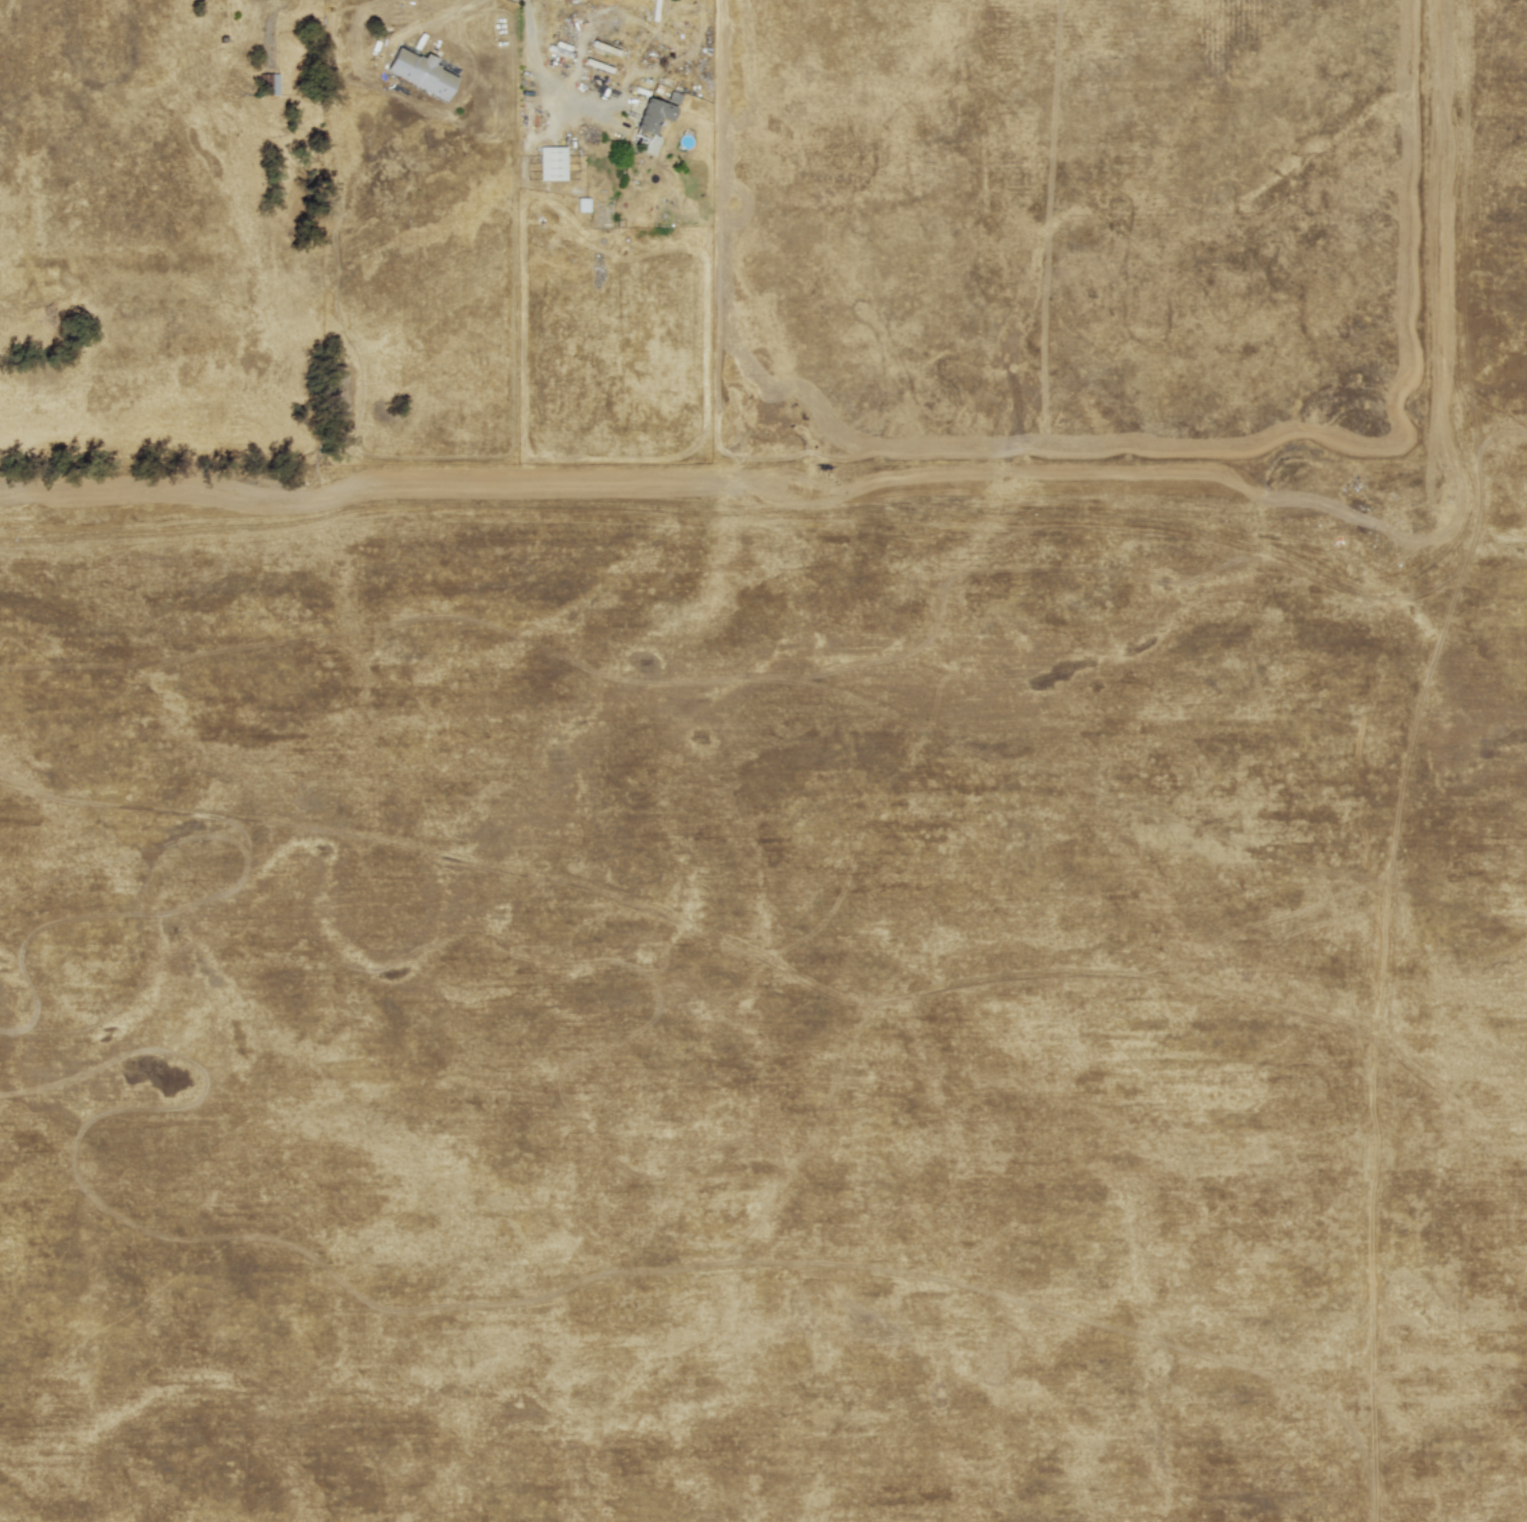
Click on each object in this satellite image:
road: (437, 17)
building: (419, 72)
road: (538, 77)
building: (267, 83)
building: (552, 163)

